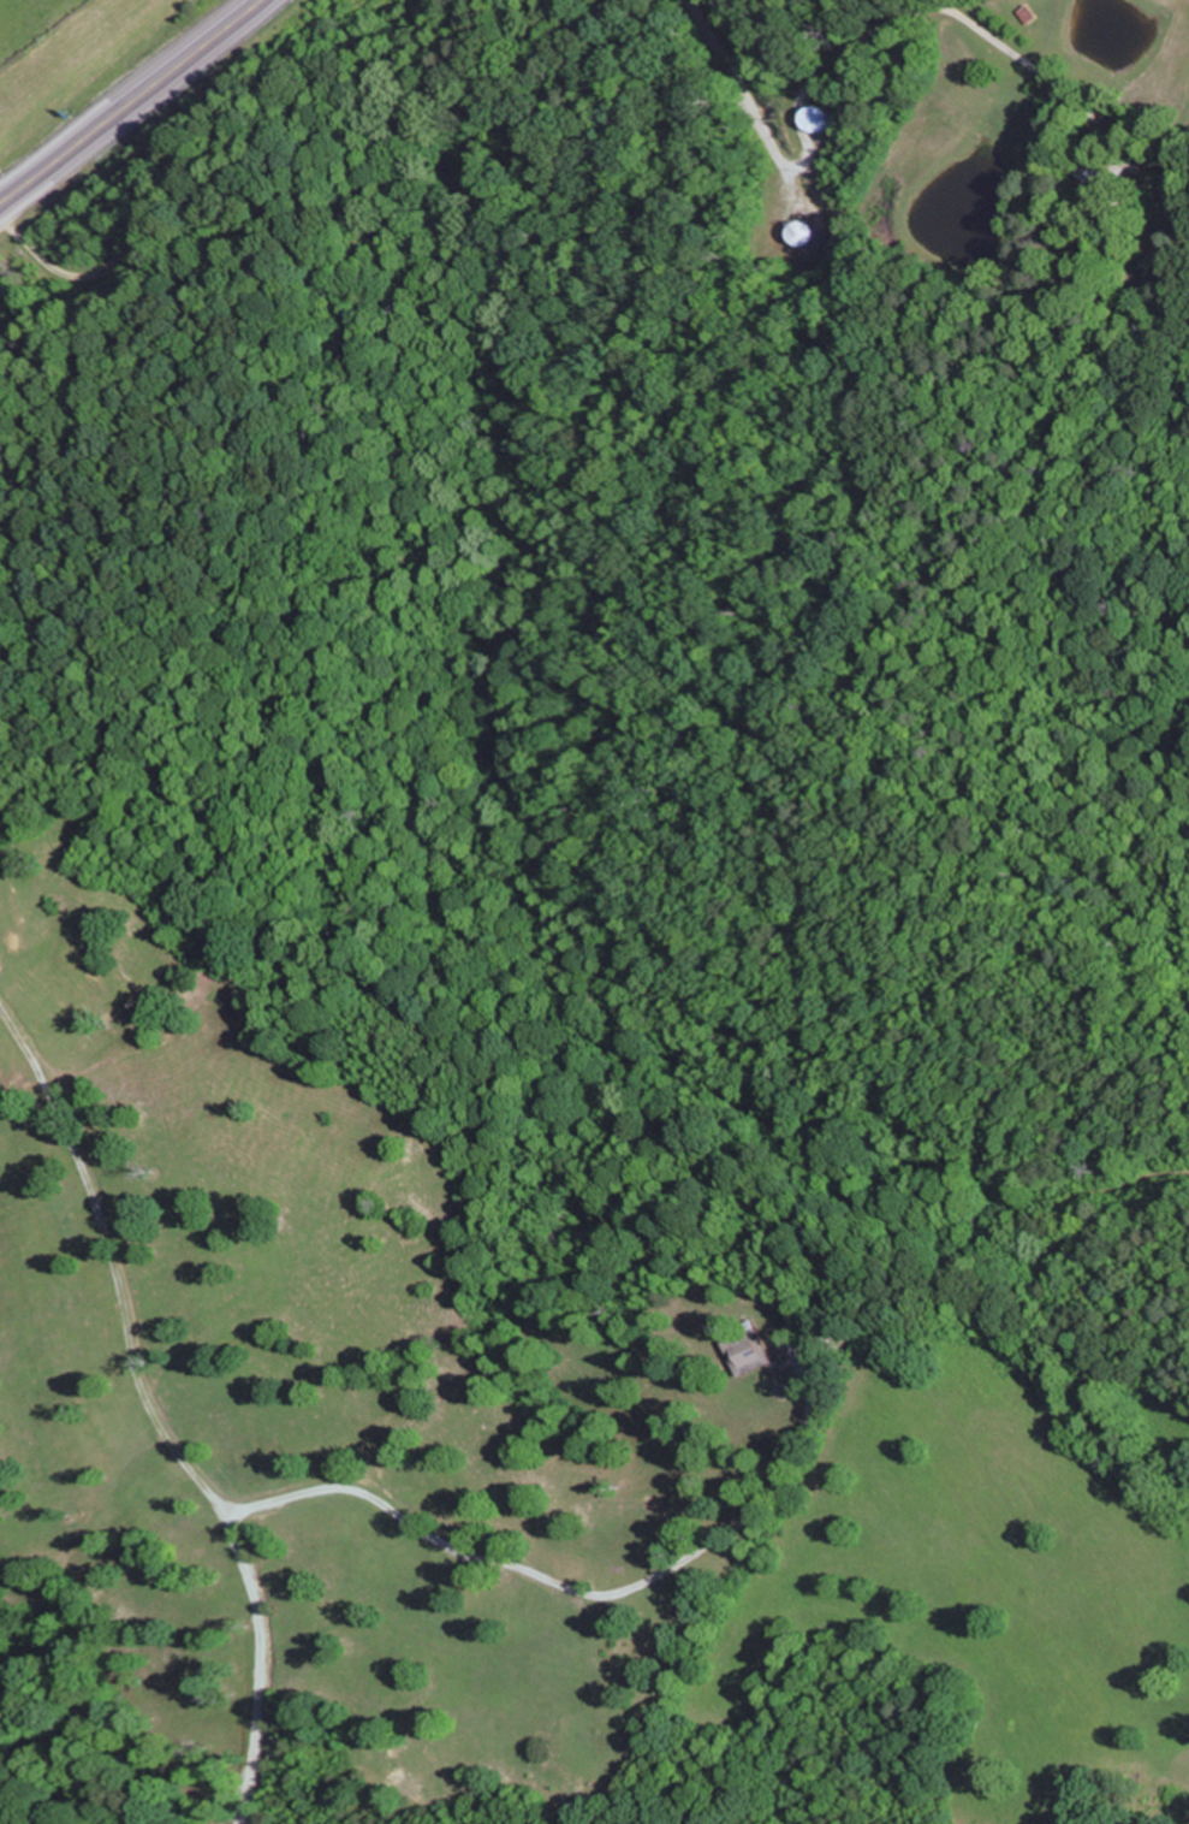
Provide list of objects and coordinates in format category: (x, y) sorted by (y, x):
building: (1030, 14)
road: (130, 100)
building: (814, 119)
building: (1093, 180)
building: (799, 233)
road: (961, 445)

